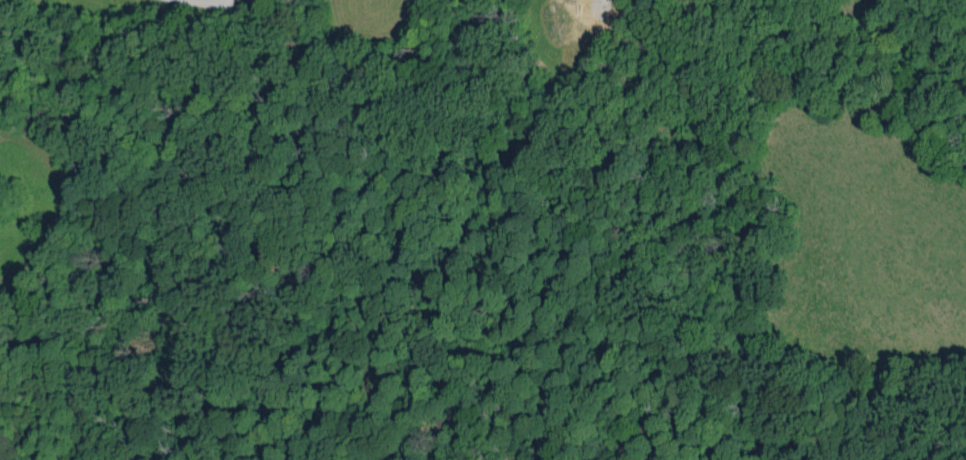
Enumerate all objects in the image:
road: (193, 2)

